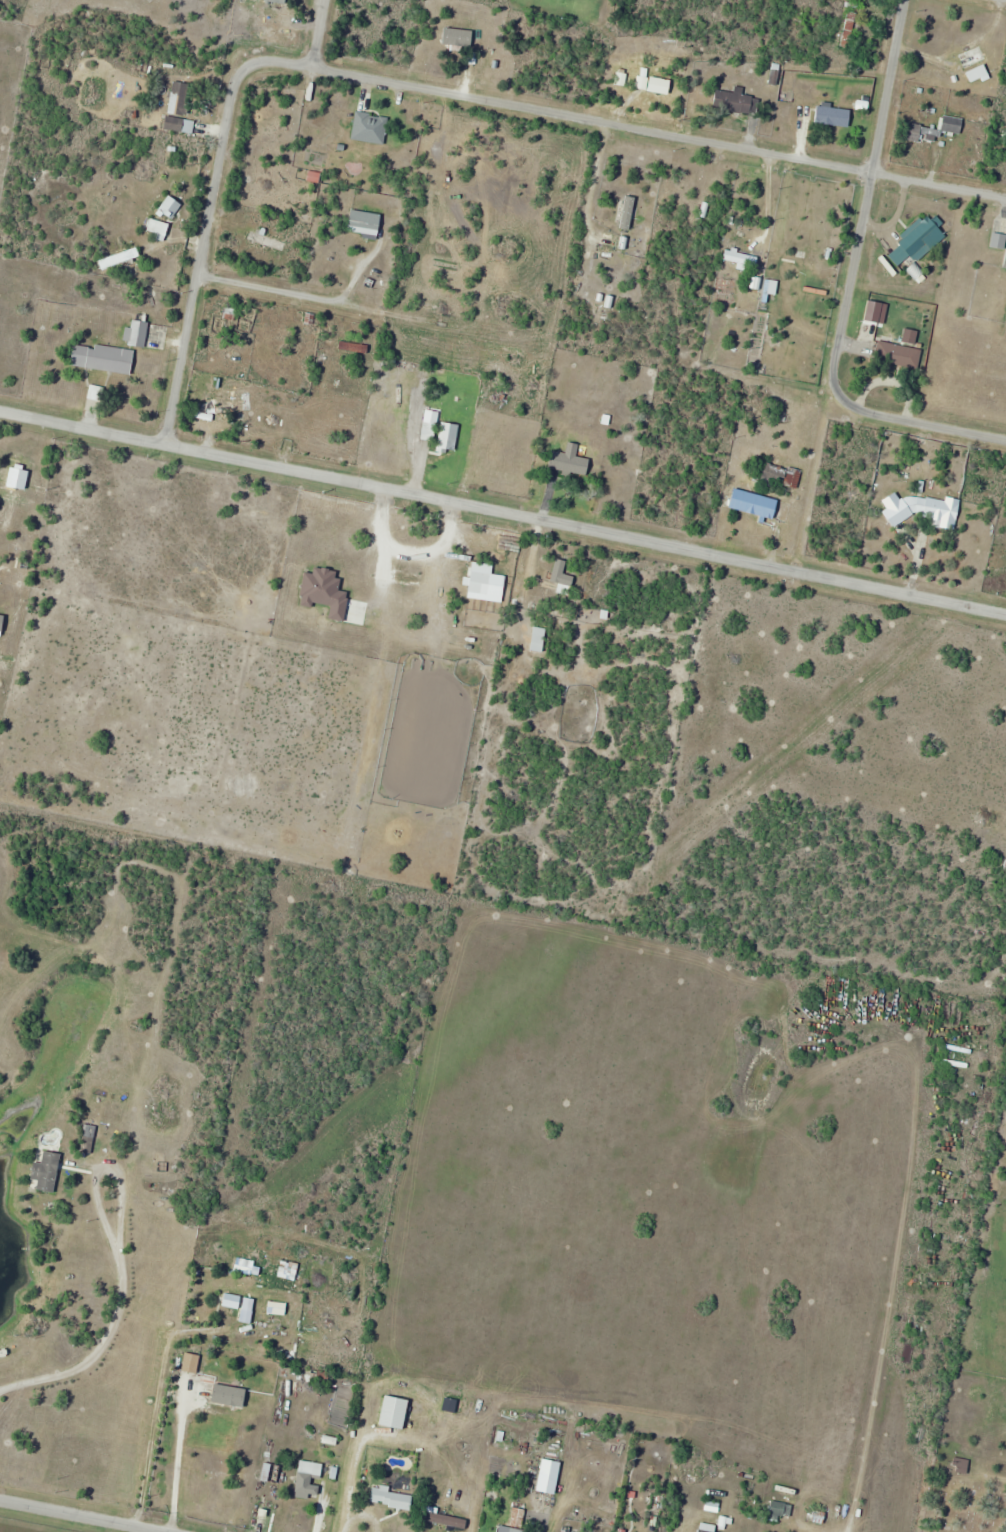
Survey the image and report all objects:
road: (331, 3)
building: (852, 27)
road: (321, 35)
building: (458, 38)
building: (975, 58)
road: (889, 85)
road: (435, 86)
building: (787, 88)
building: (180, 98)
building: (735, 102)
building: (693, 104)
building: (834, 116)
building: (180, 125)
building: (370, 128)
building: (936, 129)
building: (171, 207)
building: (627, 212)
building: (366, 223)
building: (918, 238)
building: (267, 241)
building: (609, 246)
building: (120, 258)
building: (1005, 263)
road: (853, 284)
road: (273, 288)
building: (898, 354)
building: (103, 358)
road: (919, 420)
building: (448, 437)
building: (573, 461)
building: (778, 474)
building: (755, 504)
building: (7, 507)
road: (503, 509)
building: (922, 510)
building: (396, 571)
building: (563, 573)
building: (539, 638)
building: (90, 1132)
building: (48, 1171)
building: (289, 1270)
building: (241, 1305)
building: (278, 1308)
building: (10, 1347)
building: (192, 1363)
building: (396, 1412)
park: (966, 1457)
building: (962, 1465)
building: (271, 1472)
building: (550, 1477)
building: (309, 1478)
building: (393, 1499)
building: (781, 1512)
building: (518, 1520)
road: (51, 1521)
building: (558, 1531)

